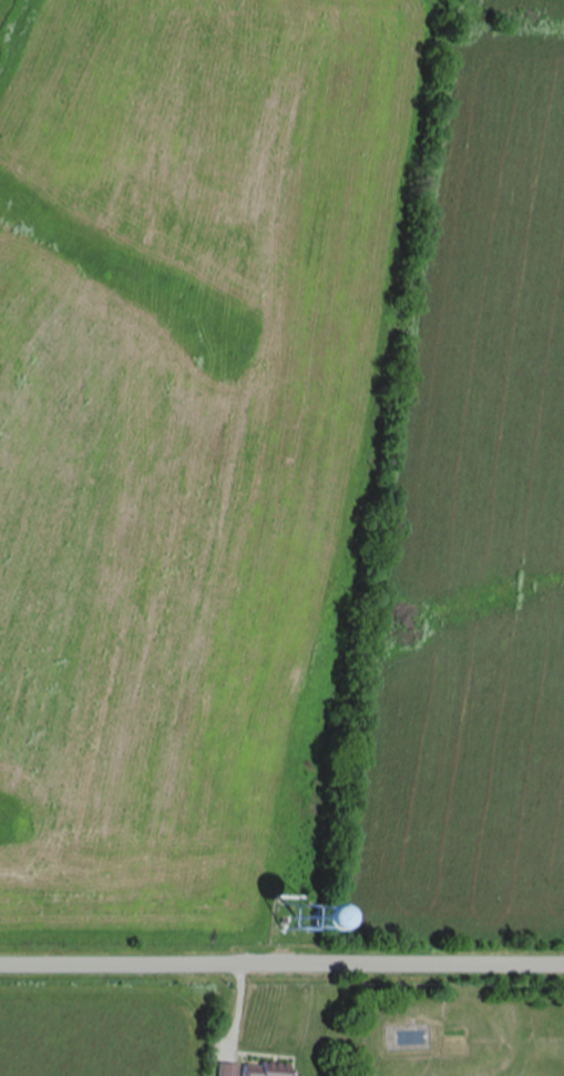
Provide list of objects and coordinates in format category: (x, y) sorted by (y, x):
road: (281, 963)
building: (259, 1069)

